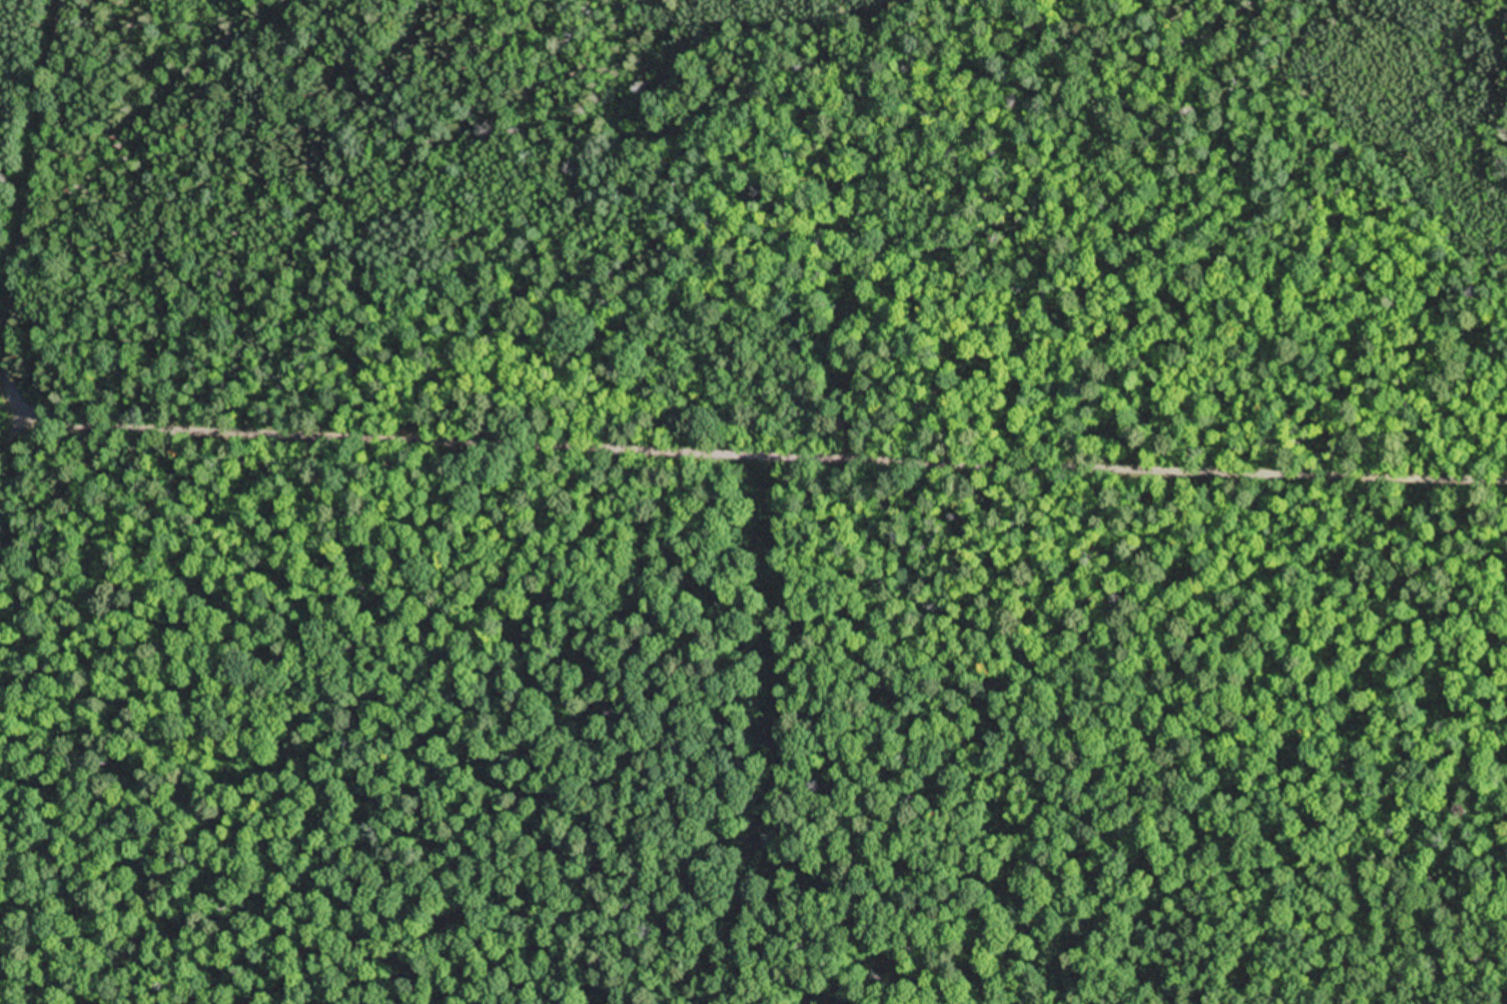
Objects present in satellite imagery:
road: (550, 444)

